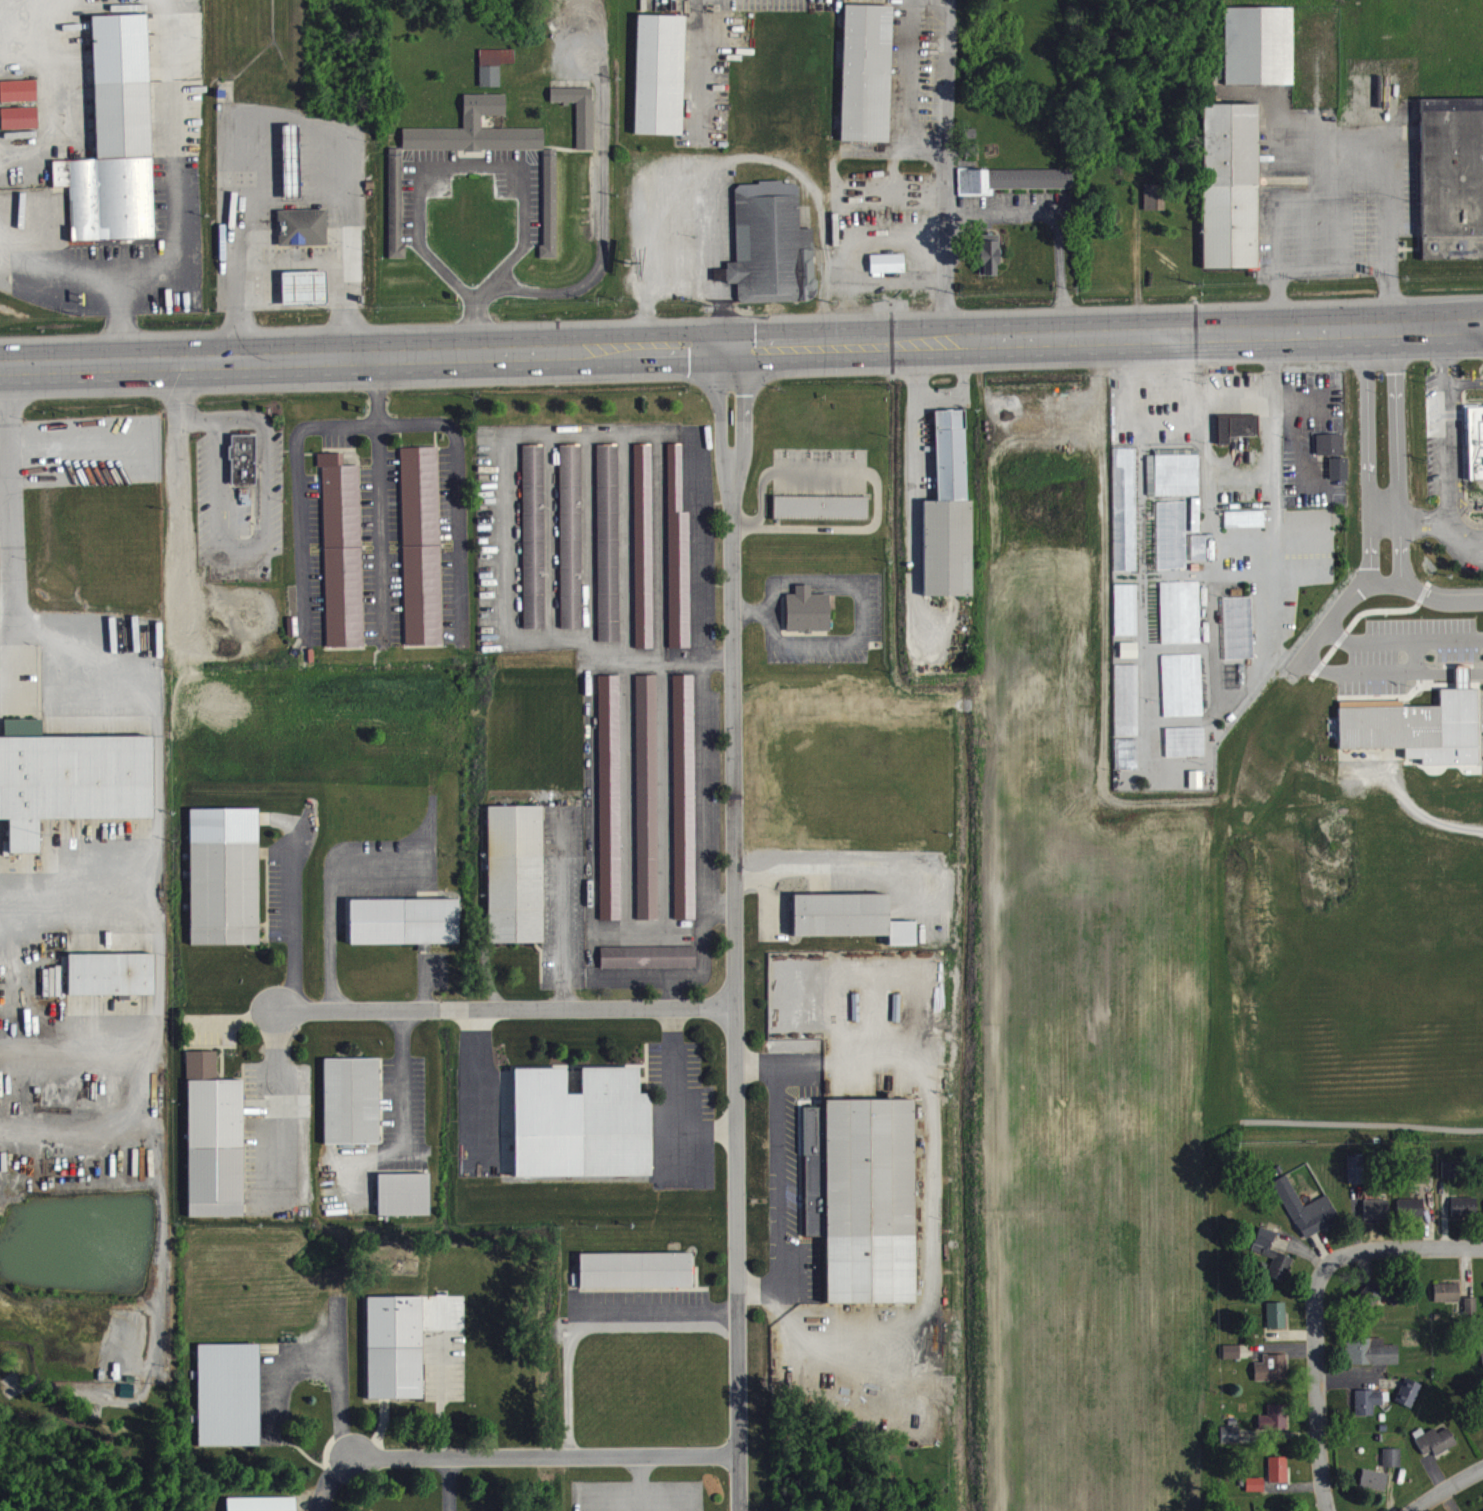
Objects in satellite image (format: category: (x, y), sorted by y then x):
building: (1259, 54)
road: (703, 69)
building: (494, 73)
road: (940, 76)
building: (867, 81)
building: (660, 83)
building: (19, 99)
building: (580, 120)
building: (20, 126)
building: (114, 136)
road: (938, 158)
building: (287, 160)
road: (787, 165)
road: (447, 170)
building: (1009, 178)
road: (1340, 181)
building: (1452, 187)
building: (548, 194)
building: (1231, 194)
building: (1155, 205)
road: (716, 208)
building: (396, 214)
road: (828, 215)
building: (299, 226)
gas station: (299, 226)
road: (648, 227)
road: (1057, 242)
road: (603, 248)
building: (772, 254)
road: (1343, 256)
building: (990, 263)
road: (295, 265)
road: (717, 269)
building: (888, 271)
road: (92, 283)
building: (301, 287)
road: (719, 314)
road: (741, 348)
traffic signals: (732, 349)
road: (1466, 392)
road: (180, 414)
building: (1237, 436)
building: (1473, 442)
road: (1449, 446)
building: (1330, 453)
building: (241, 457)
building: (1339, 477)
building: (1177, 484)
road: (379, 493)
road: (8, 506)
building: (821, 516)
building: (1126, 518)
road: (1425, 522)
building: (949, 523)
building: (1245, 527)
building: (531, 534)
building: (568, 535)
building: (606, 541)
building: (1172, 543)
building: (642, 544)
building: (419, 545)
building: (340, 549)
building: (676, 552)
road: (1377, 594)
road: (1388, 594)
building: (805, 609)
building: (1126, 618)
building: (1181, 621)
building: (1239, 636)
road: (1405, 648)
building: (1129, 659)
road: (1379, 682)
building: (1183, 694)
building: (1418, 734)
building: (68, 777)
building: (608, 794)
building: (645, 795)
building: (682, 795)
building: (513, 872)
building: (221, 874)
road: (329, 890)
road: (766, 891)
building: (847, 916)
building: (401, 919)
road: (290, 926)
road: (734, 930)
building: (646, 955)
building: (108, 972)
road: (424, 981)
road: (504, 1008)
road: (757, 1065)
road: (402, 1082)
road: (477, 1088)
road: (674, 1090)
road: (277, 1098)
building: (349, 1099)
building: (578, 1121)
road: (706, 1127)
building: (212, 1136)
road: (779, 1175)
building: (1422, 1175)
building: (1357, 1178)
building: (1451, 1178)
building: (401, 1192)
building: (863, 1199)
road: (934, 1200)
building: (1465, 1215)
building: (1411, 1216)
building: (1377, 1217)
building: (1307, 1218)
building: (1272, 1263)
building: (634, 1268)
road: (759, 1286)
building: (1447, 1301)
road: (1316, 1310)
building: (1470, 1315)
road: (590, 1320)
building: (1277, 1324)
building: (391, 1346)
building: (1232, 1360)
building: (1371, 1360)
building: (1482, 1360)
road: (274, 1366)
building: (1272, 1377)
road: (338, 1381)
building: (226, 1393)
road: (439, 1396)
building: (1409, 1401)
building: (1368, 1410)
building: (1275, 1427)
building: (1236, 1444)
building: (1435, 1449)
road: (547, 1458)
building: (1392, 1466)
building: (1278, 1478)
road: (329, 1479)
road: (446, 1485)
building: (1374, 1489)
road: (1448, 1489)
building: (1255, 1493)
parking lot: (635, 1495)
building: (259, 1503)

